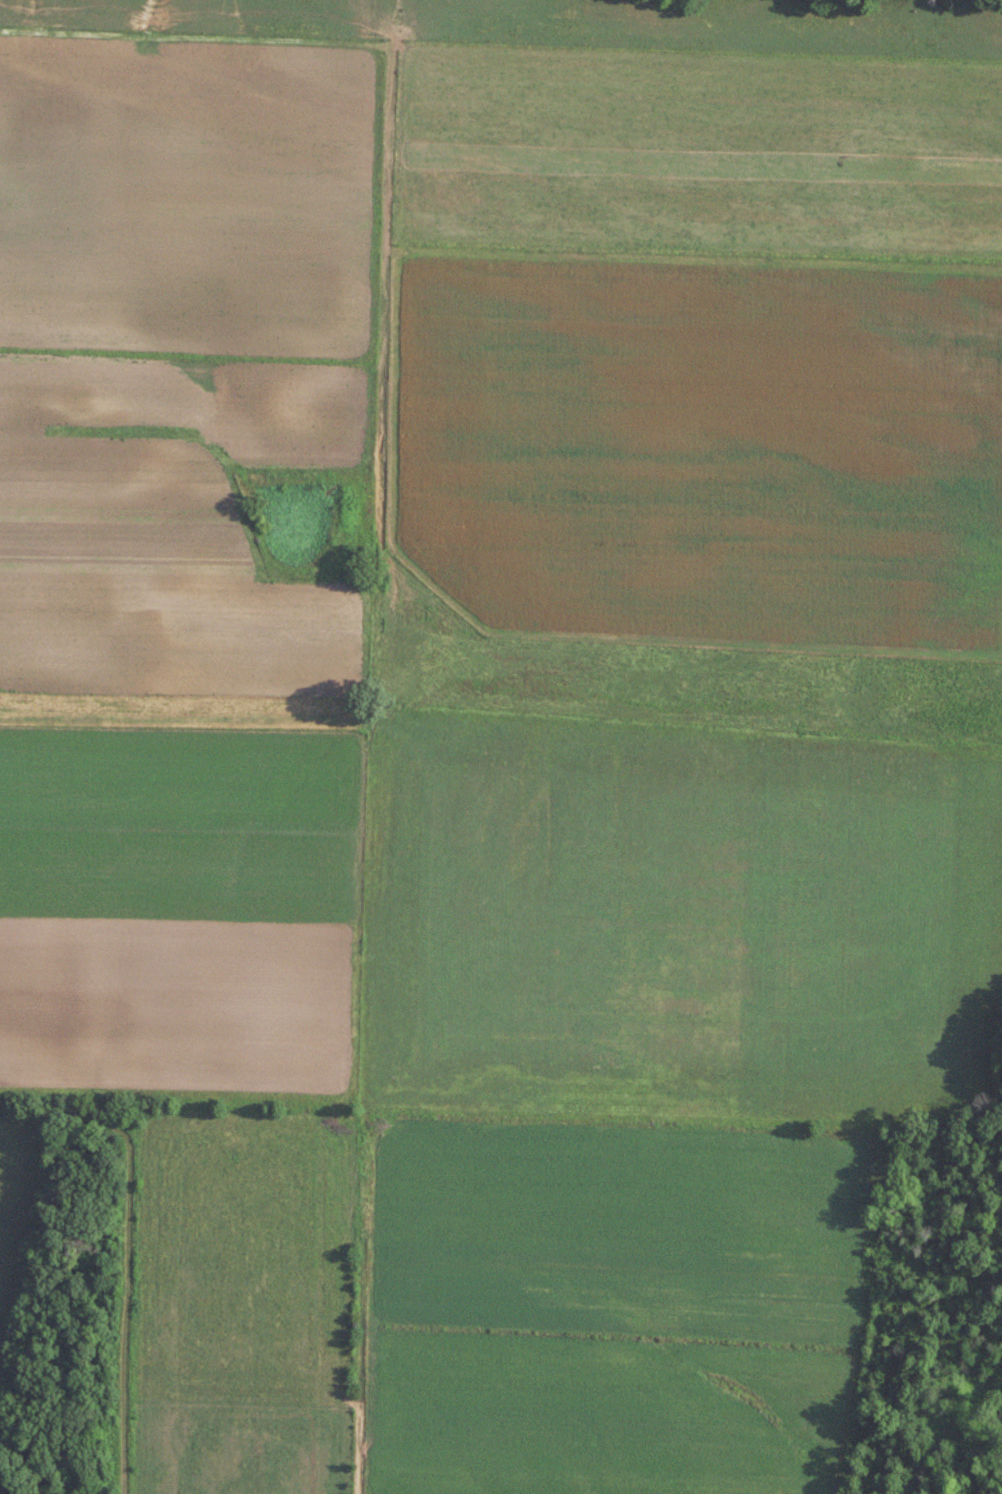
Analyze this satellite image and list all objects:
road: (368, 1311)
road: (124, 1318)

